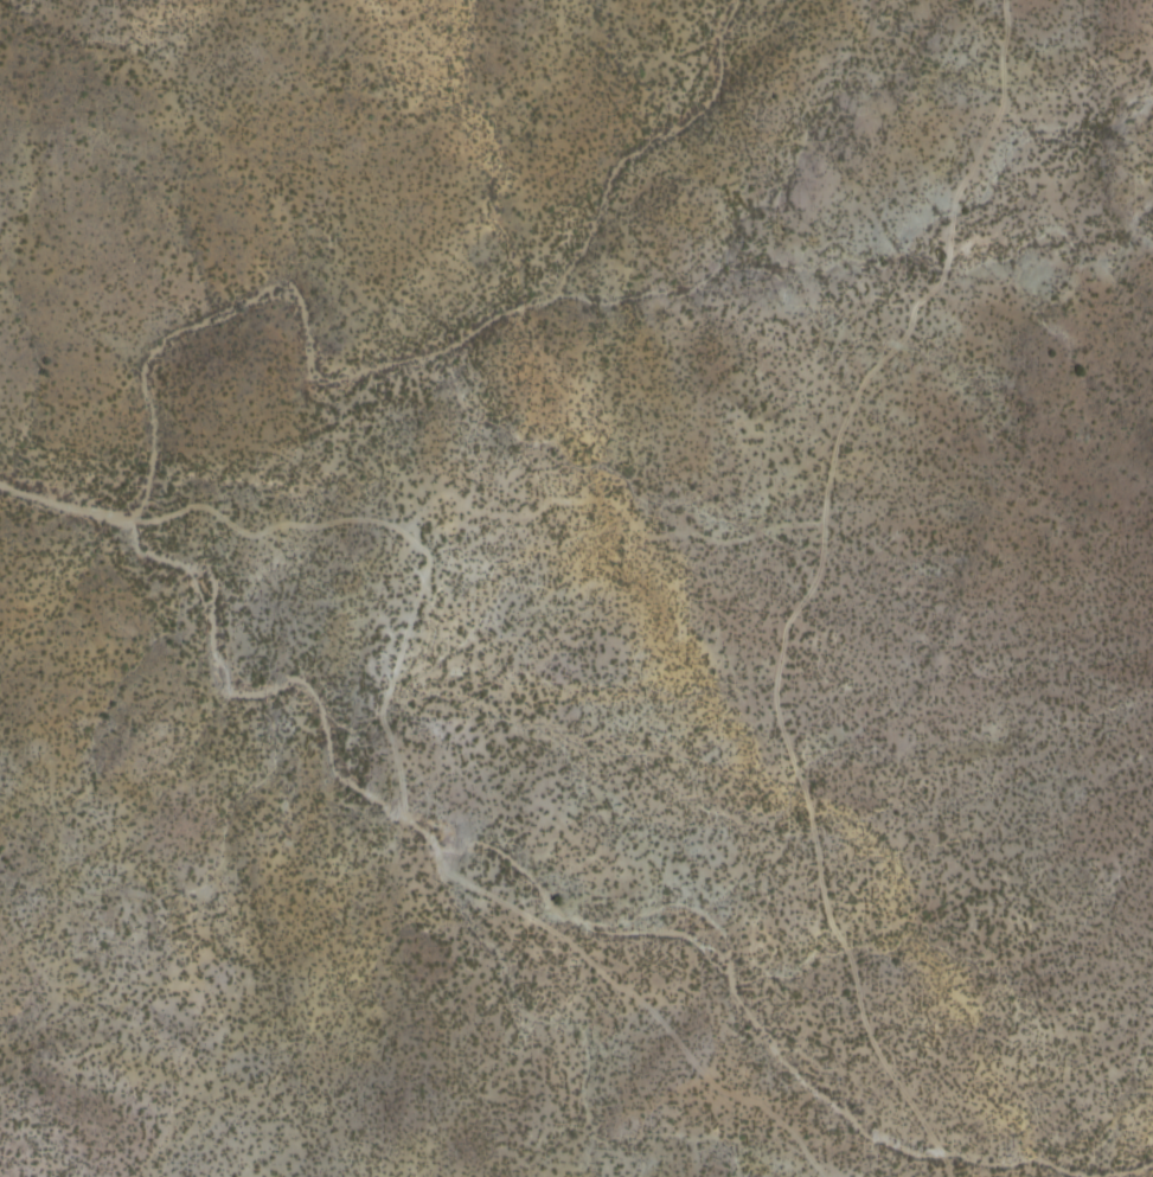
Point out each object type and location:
road: (813, 586)

